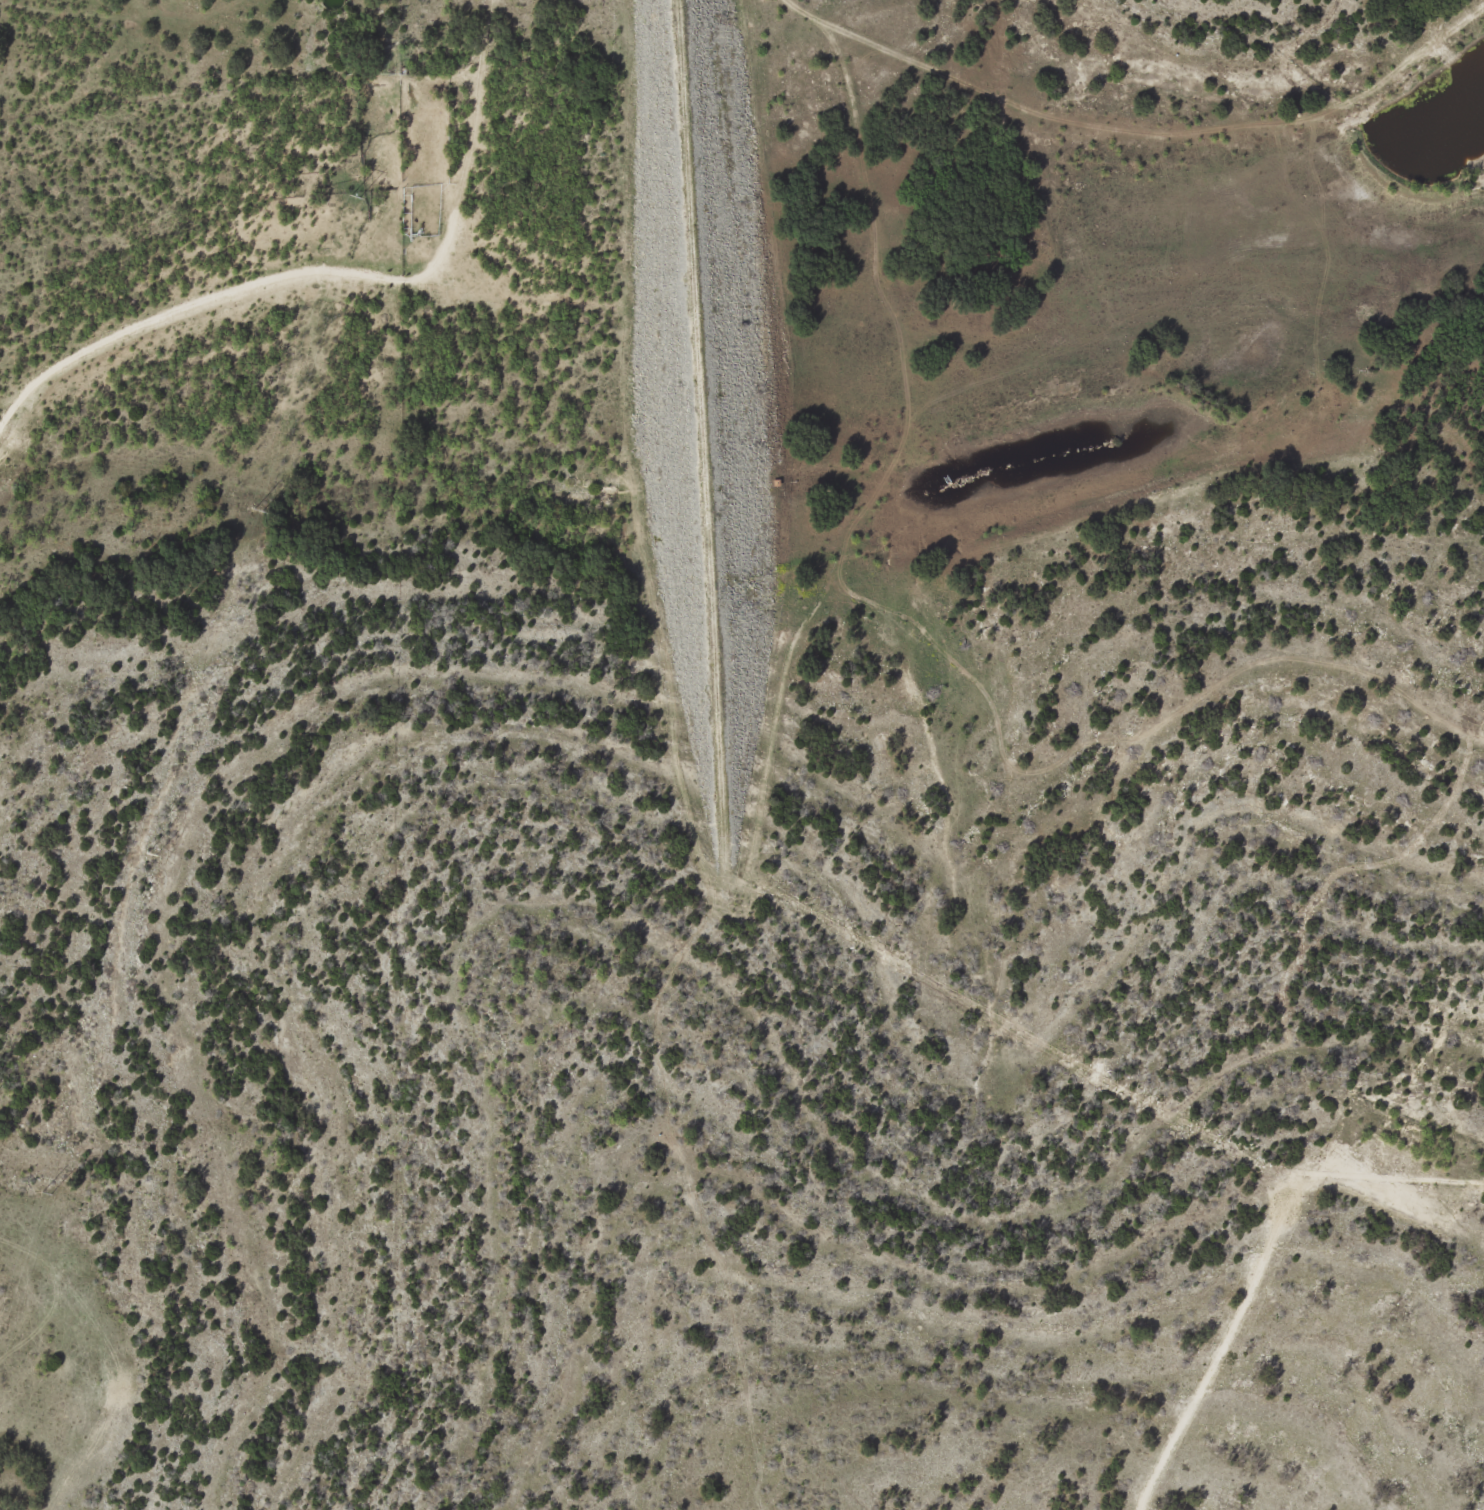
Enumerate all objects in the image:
power tower: (351, 194)
road: (216, 278)
dam: (711, 442)
power tower: (254, 507)
power tower: (149, 851)
power tower: (45, 1190)

